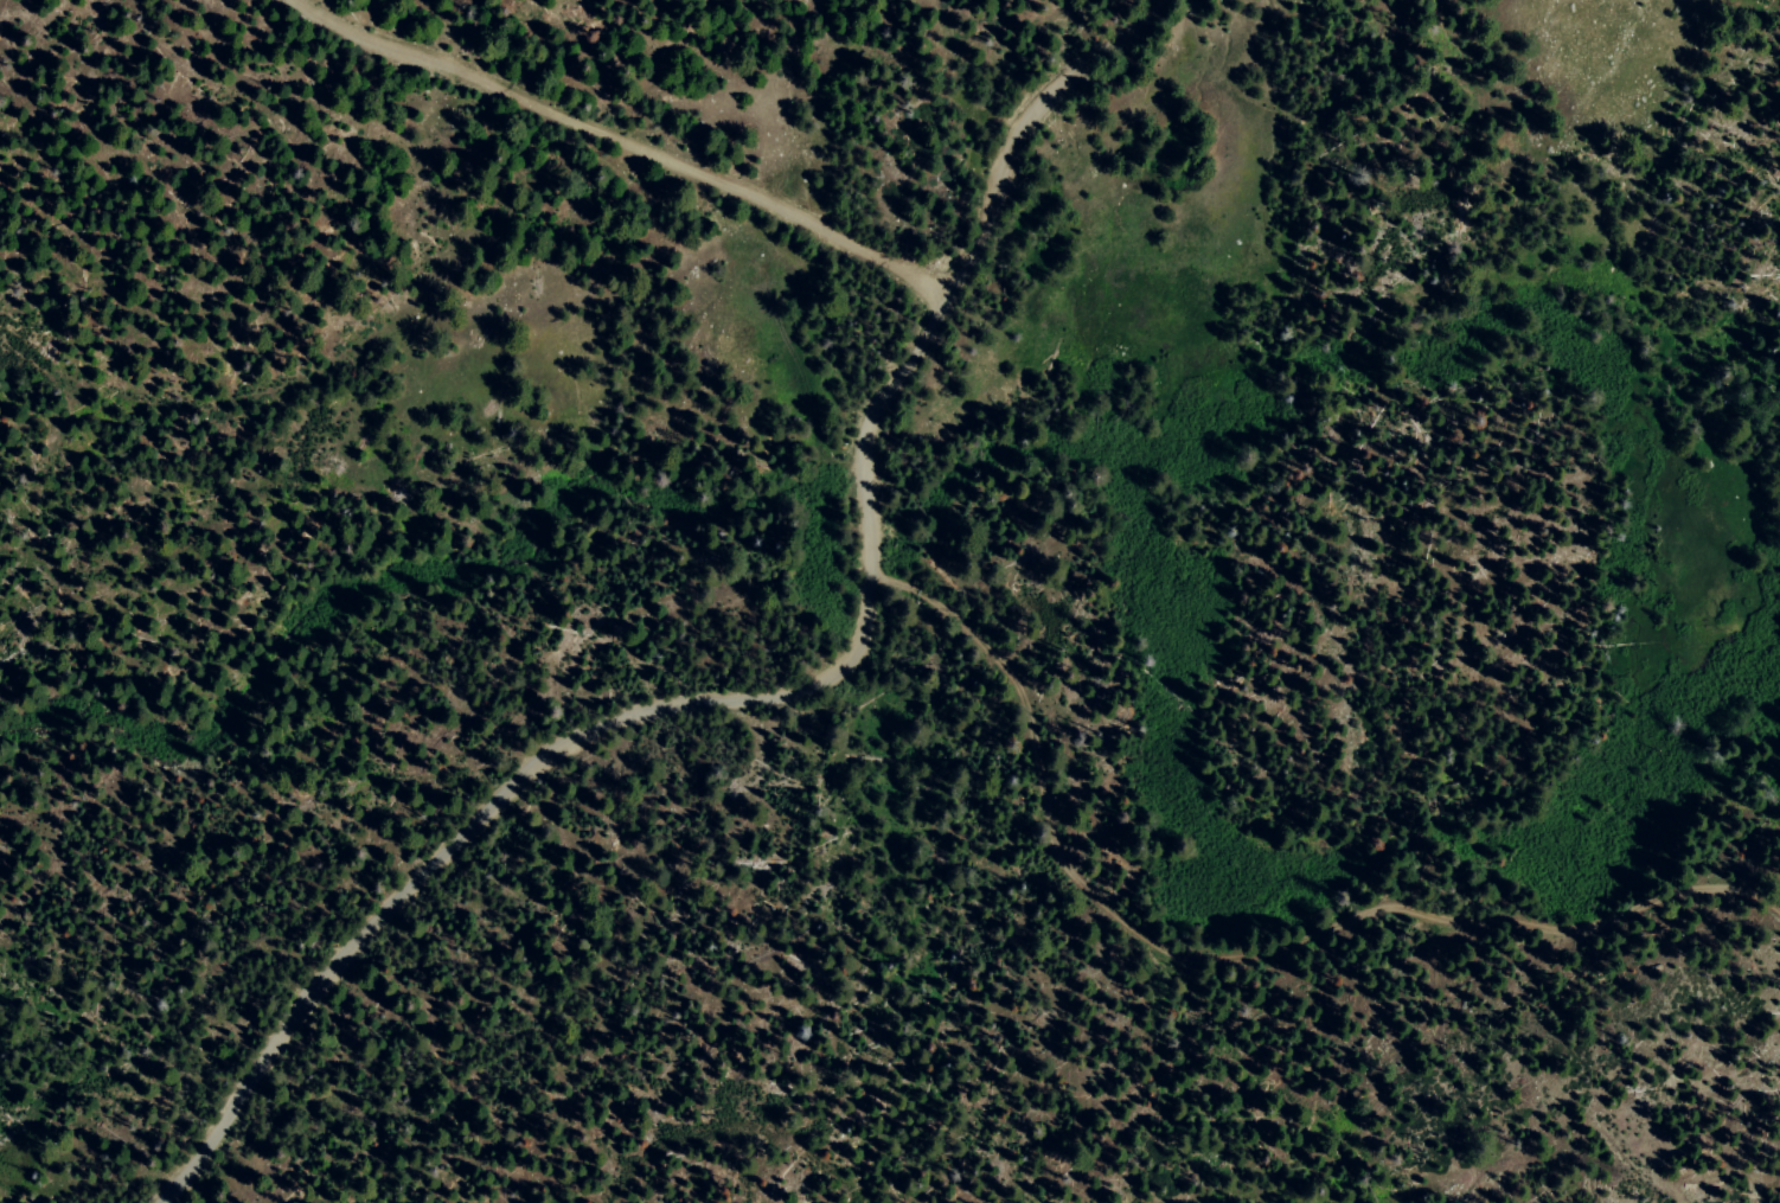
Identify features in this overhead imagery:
road: (623, 141)
road: (781, 692)
road: (1230, 959)

